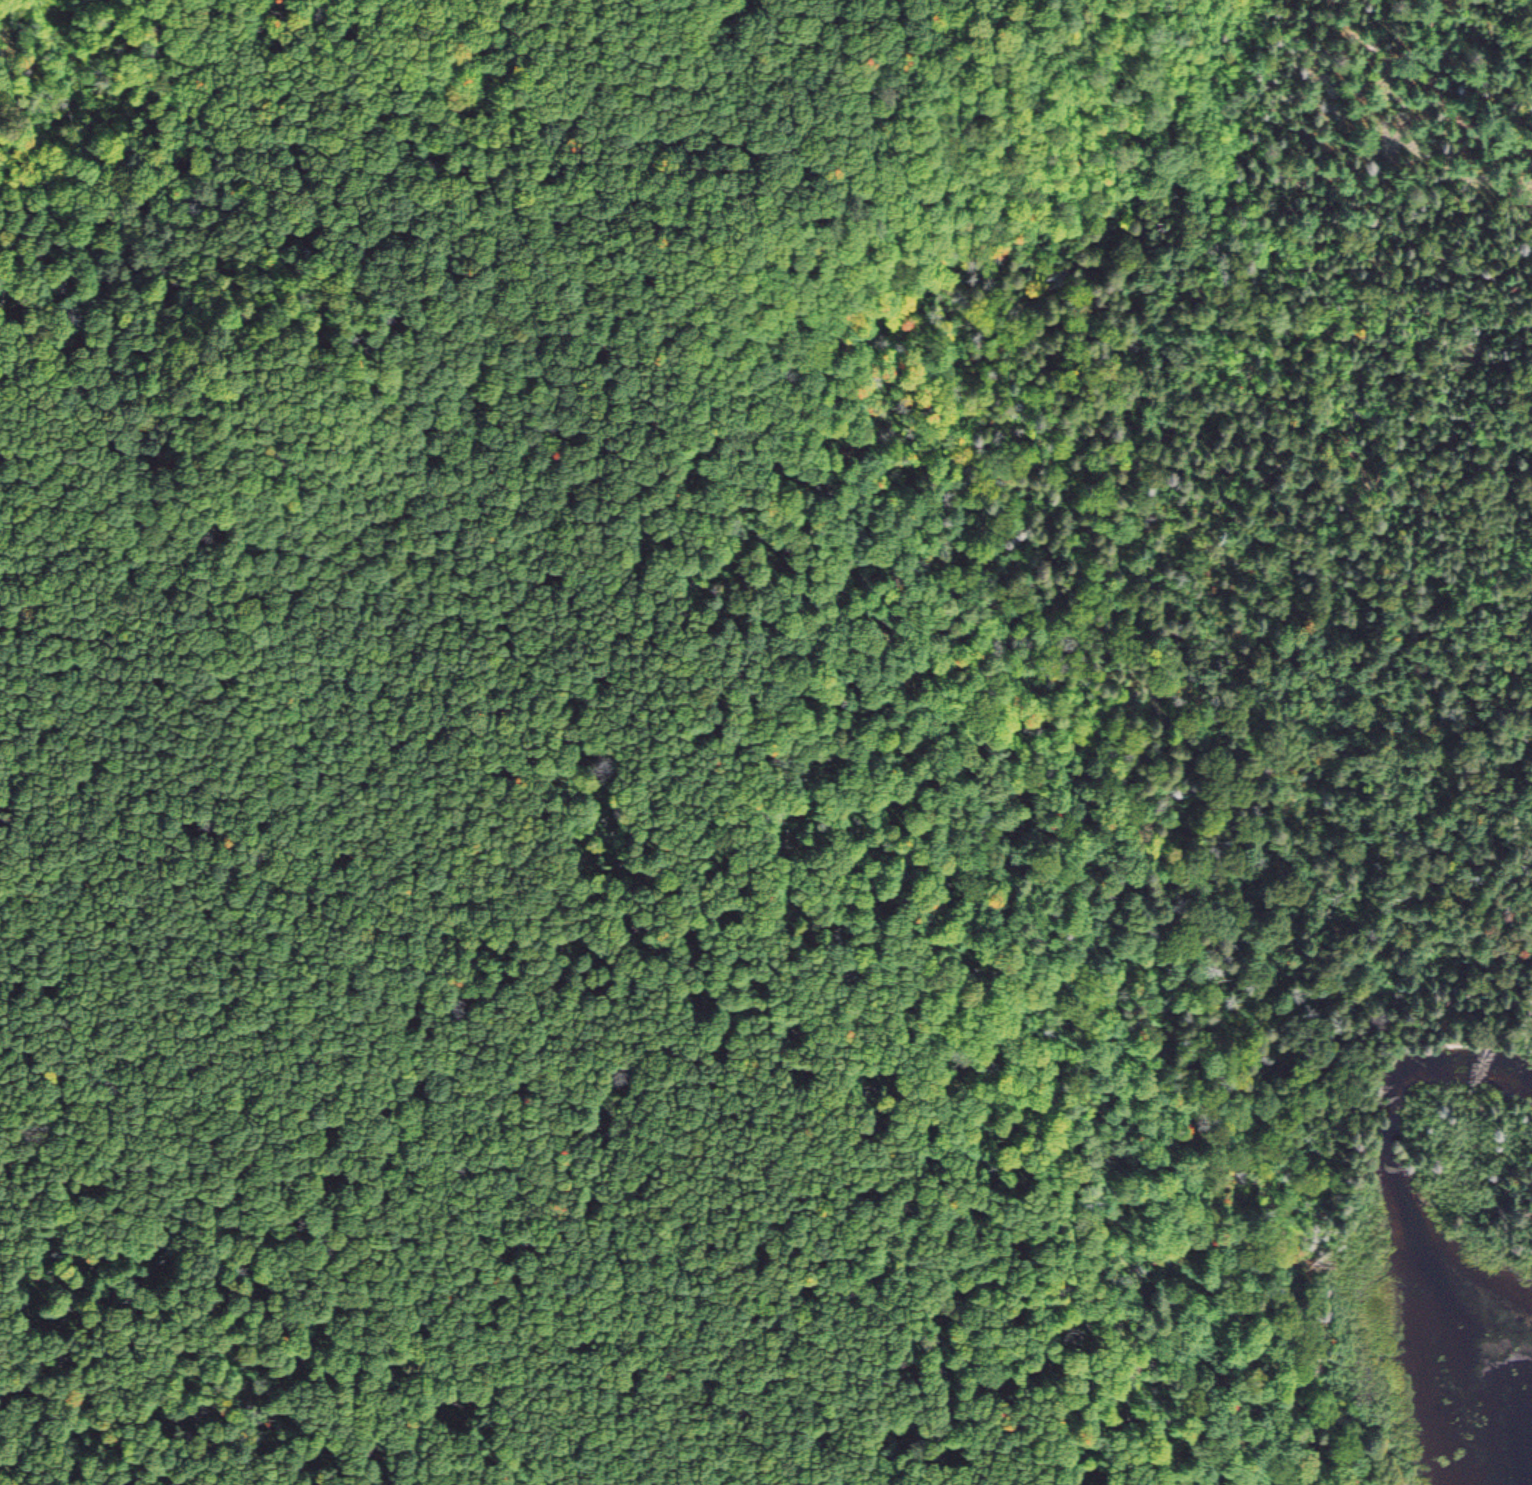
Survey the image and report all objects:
river: (1411, 1120)
river: (1449, 1365)

